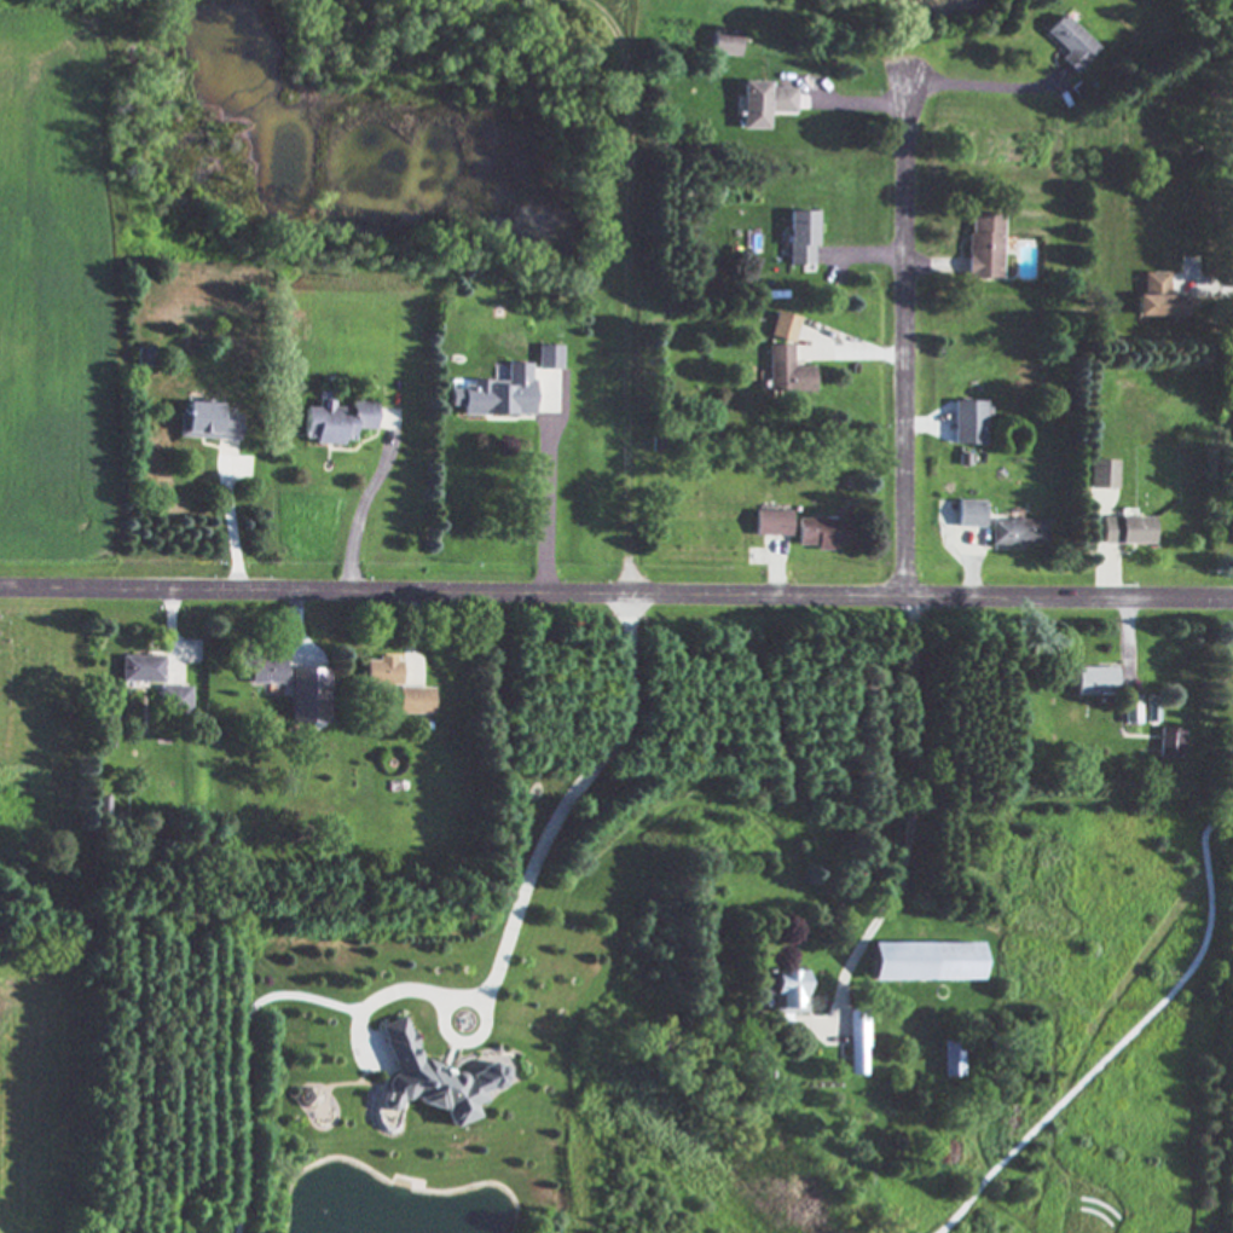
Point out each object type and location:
building: (723, 44)
building: (1069, 44)
road: (980, 83)
building: (760, 104)
road: (872, 104)
building: (799, 238)
building: (983, 245)
road: (899, 260)
building: (1154, 299)
building: (782, 328)
road: (909, 337)
road: (868, 351)
building: (140, 357)
building: (548, 358)
building: (785, 372)
building: (496, 395)
building: (334, 422)
building: (203, 423)
road: (924, 423)
building: (967, 423)
building: (1100, 475)
road: (366, 504)
road: (548, 511)
building: (968, 515)
building: (770, 525)
road: (233, 527)
building: (1125, 531)
building: (1229, 531)
building: (1015, 533)
building: (820, 534)
road: (974, 577)
road: (777, 579)
road: (1112, 580)
road: (615, 592)
road: (632, 592)
road: (172, 625)
road: (297, 642)
road: (1133, 643)
building: (138, 670)
building: (262, 672)
building: (380, 673)
building: (1094, 683)
building: (380, 693)
building: (305, 696)
building: (170, 701)
building: (411, 702)
building: (1130, 711)
building: (1169, 743)
road: (909, 817)
building: (922, 963)
building: (782, 991)
building: (856, 1043)
building: (949, 1061)
building: (427, 1081)

